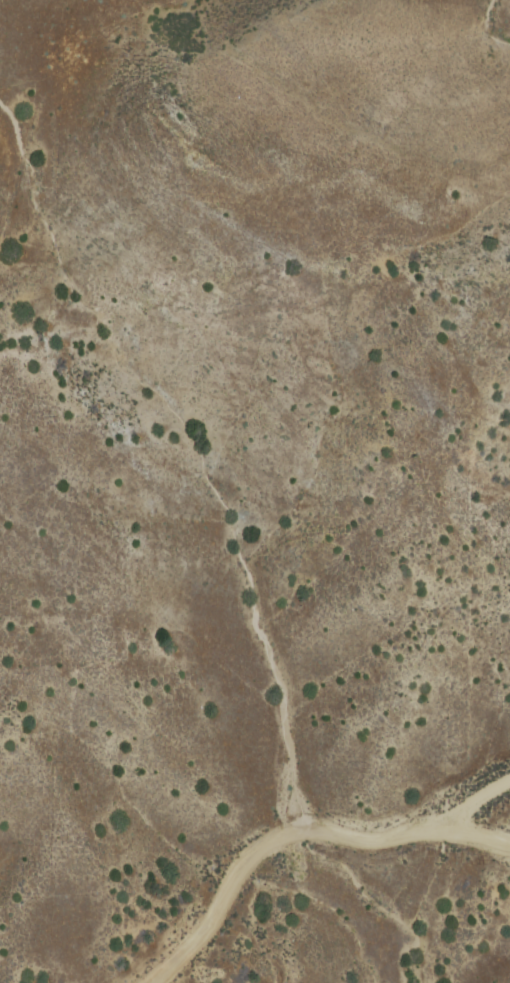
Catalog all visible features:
road: (309, 844)

